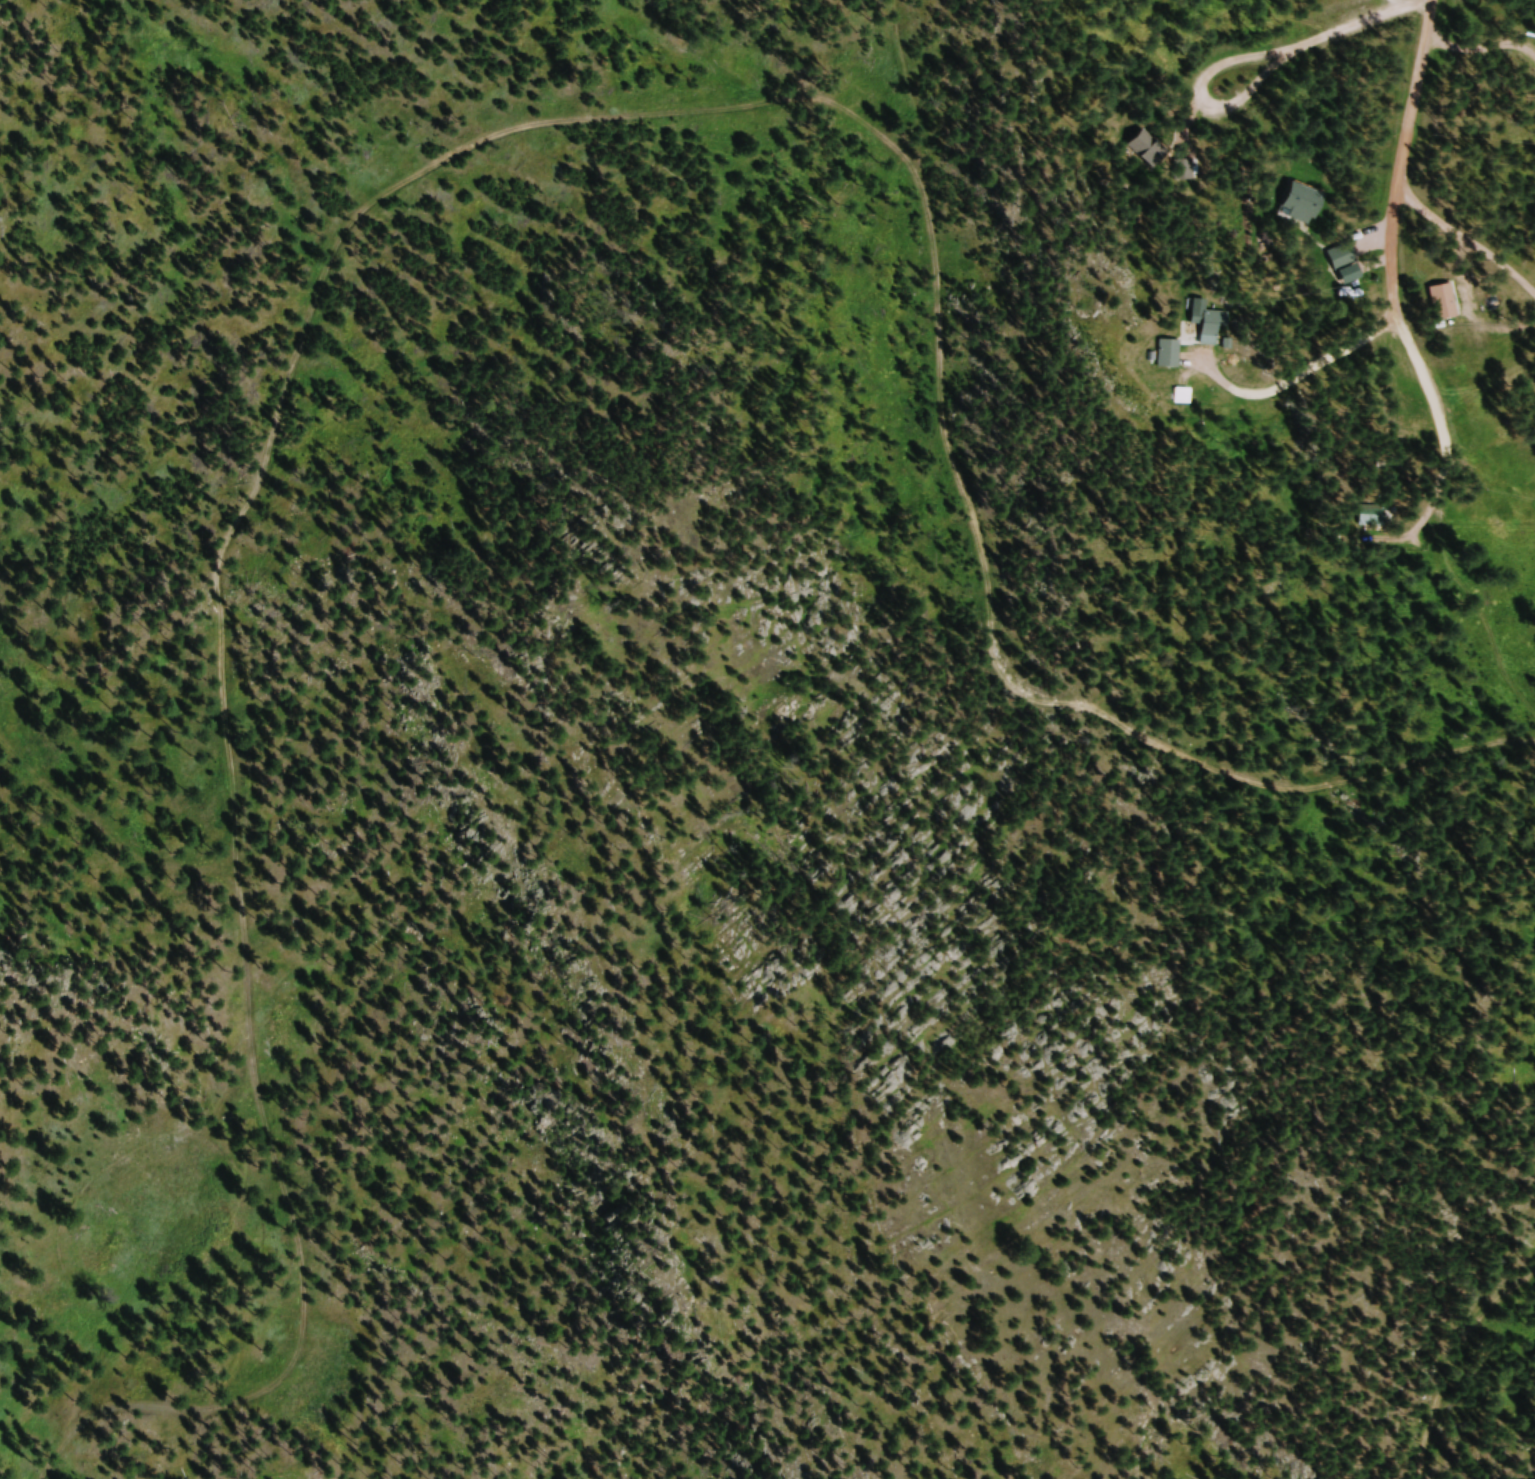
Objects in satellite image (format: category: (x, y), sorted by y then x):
road: (1350, 33)
building: (1141, 148)
road: (435, 157)
building: (1186, 171)
building: (1297, 203)
road: (1390, 252)
building: (1340, 260)
building: (1440, 304)
building: (1204, 321)
building: (1168, 356)
building: (1181, 398)
building: (1370, 518)
road: (1455, 1362)

